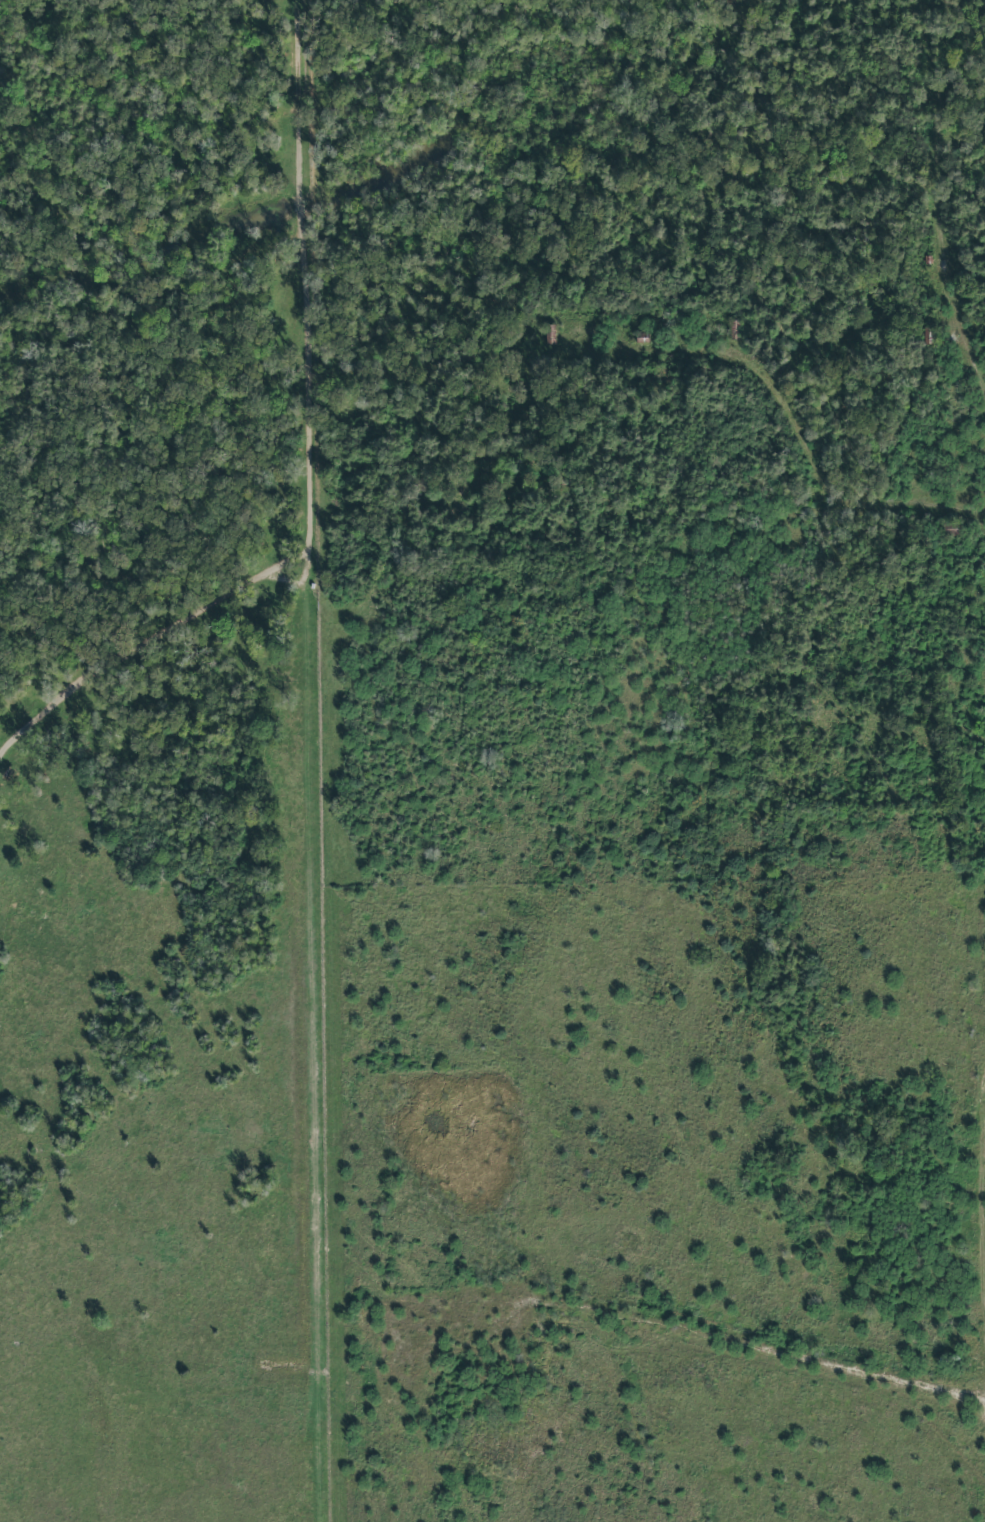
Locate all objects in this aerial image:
road: (941, 213)
road: (844, 503)
road: (964, 869)
road: (944, 1202)
road: (984, 1261)

